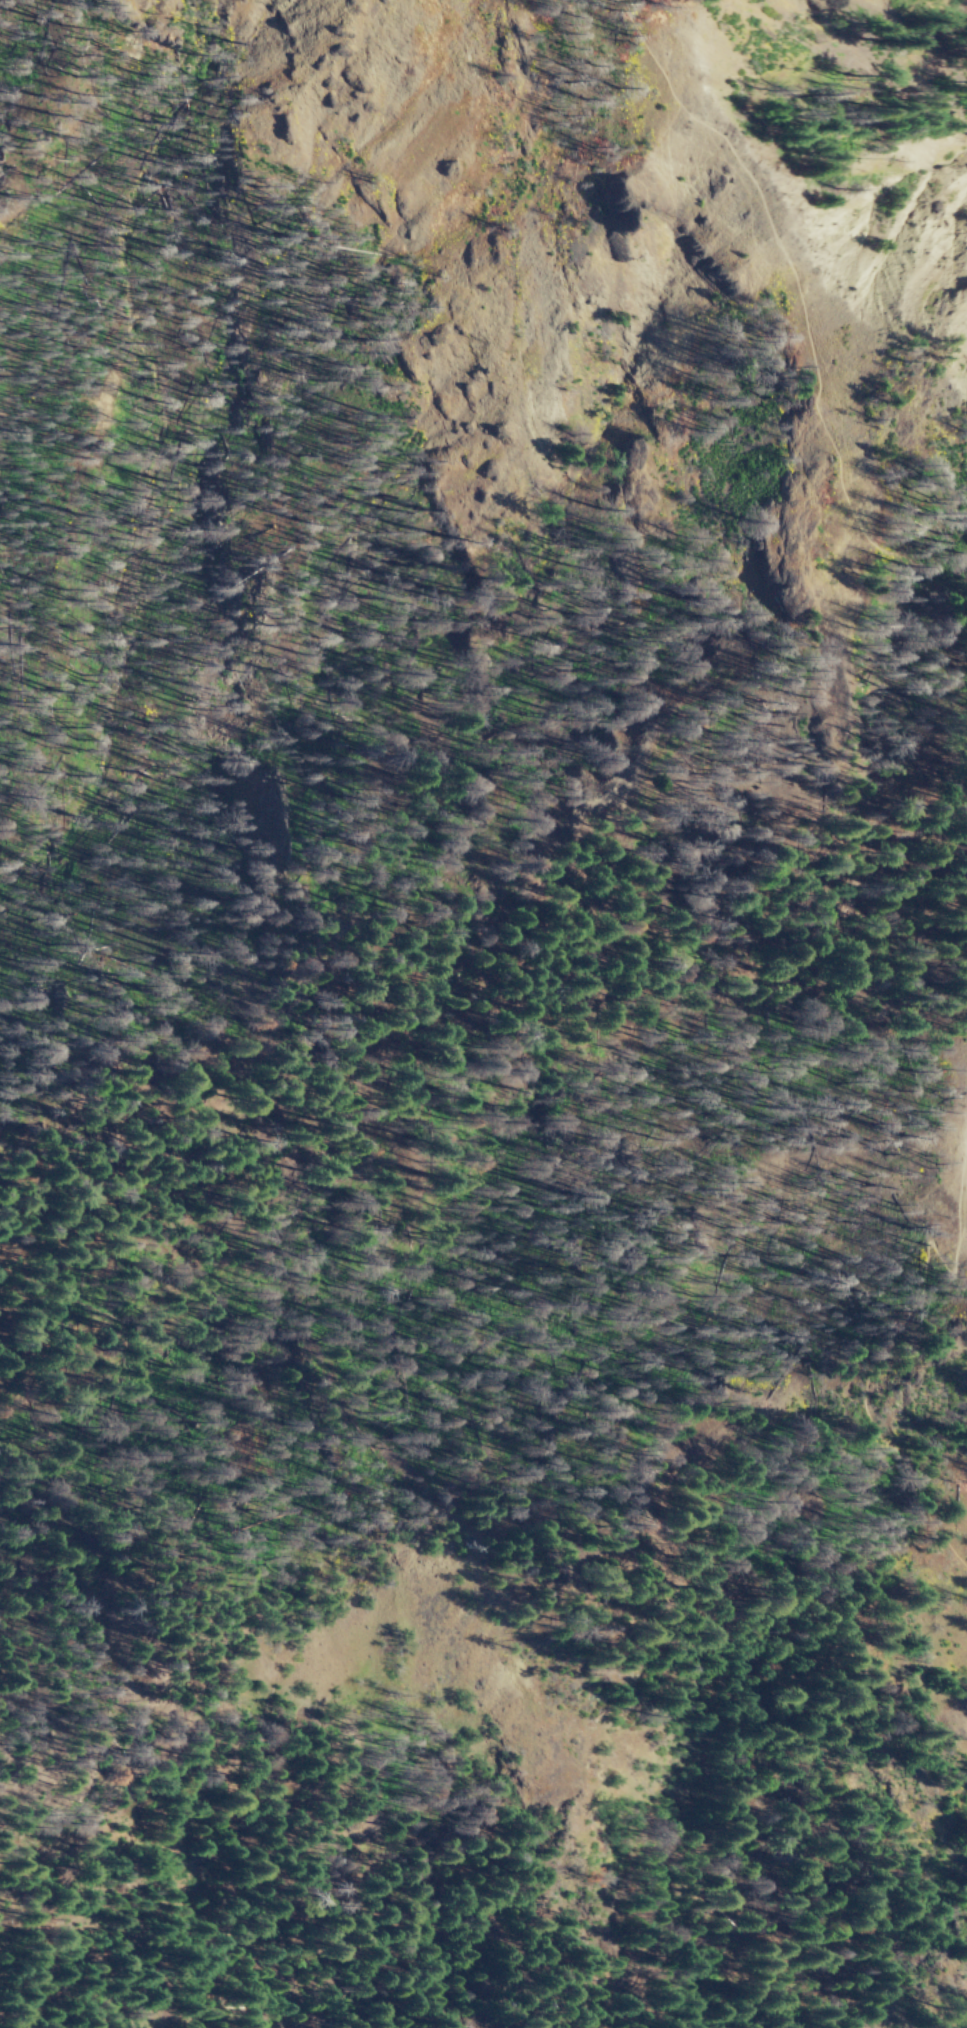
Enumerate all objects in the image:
road: (805, 327)
road: (891, 1332)

